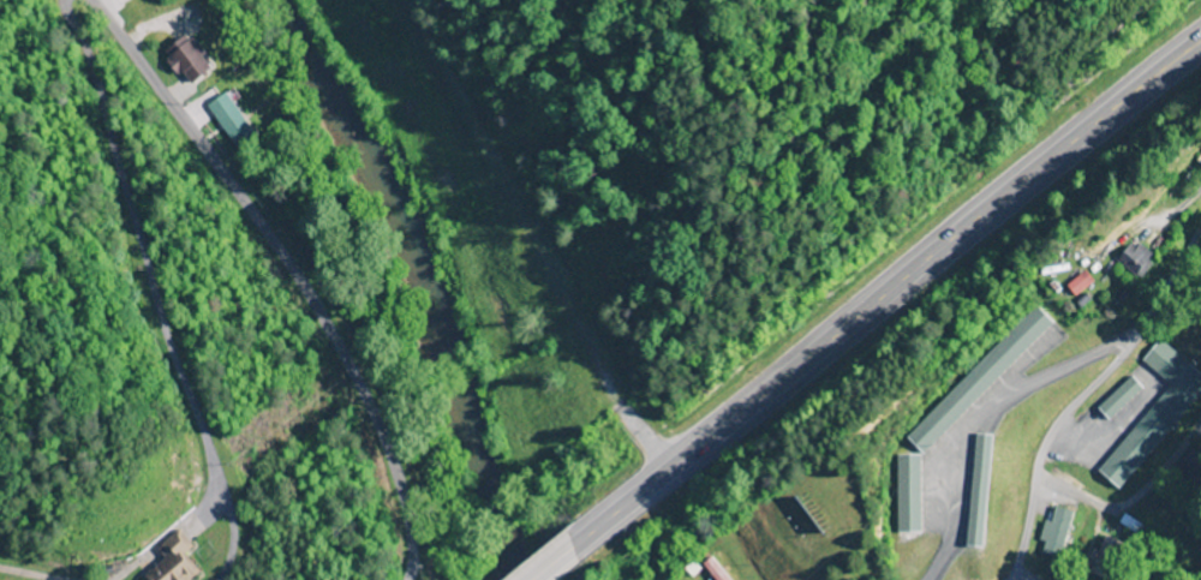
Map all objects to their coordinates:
building: (1133, 261)
road: (295, 270)
river: (416, 281)
road: (891, 299)
building: (976, 381)
road: (1082, 391)
building: (1117, 399)
building: (1152, 414)
building: (974, 491)
building: (904, 494)
road: (1133, 496)
building: (1053, 532)
road: (585, 554)
building: (1101, 556)
building: (169, 561)
road: (567, 568)

